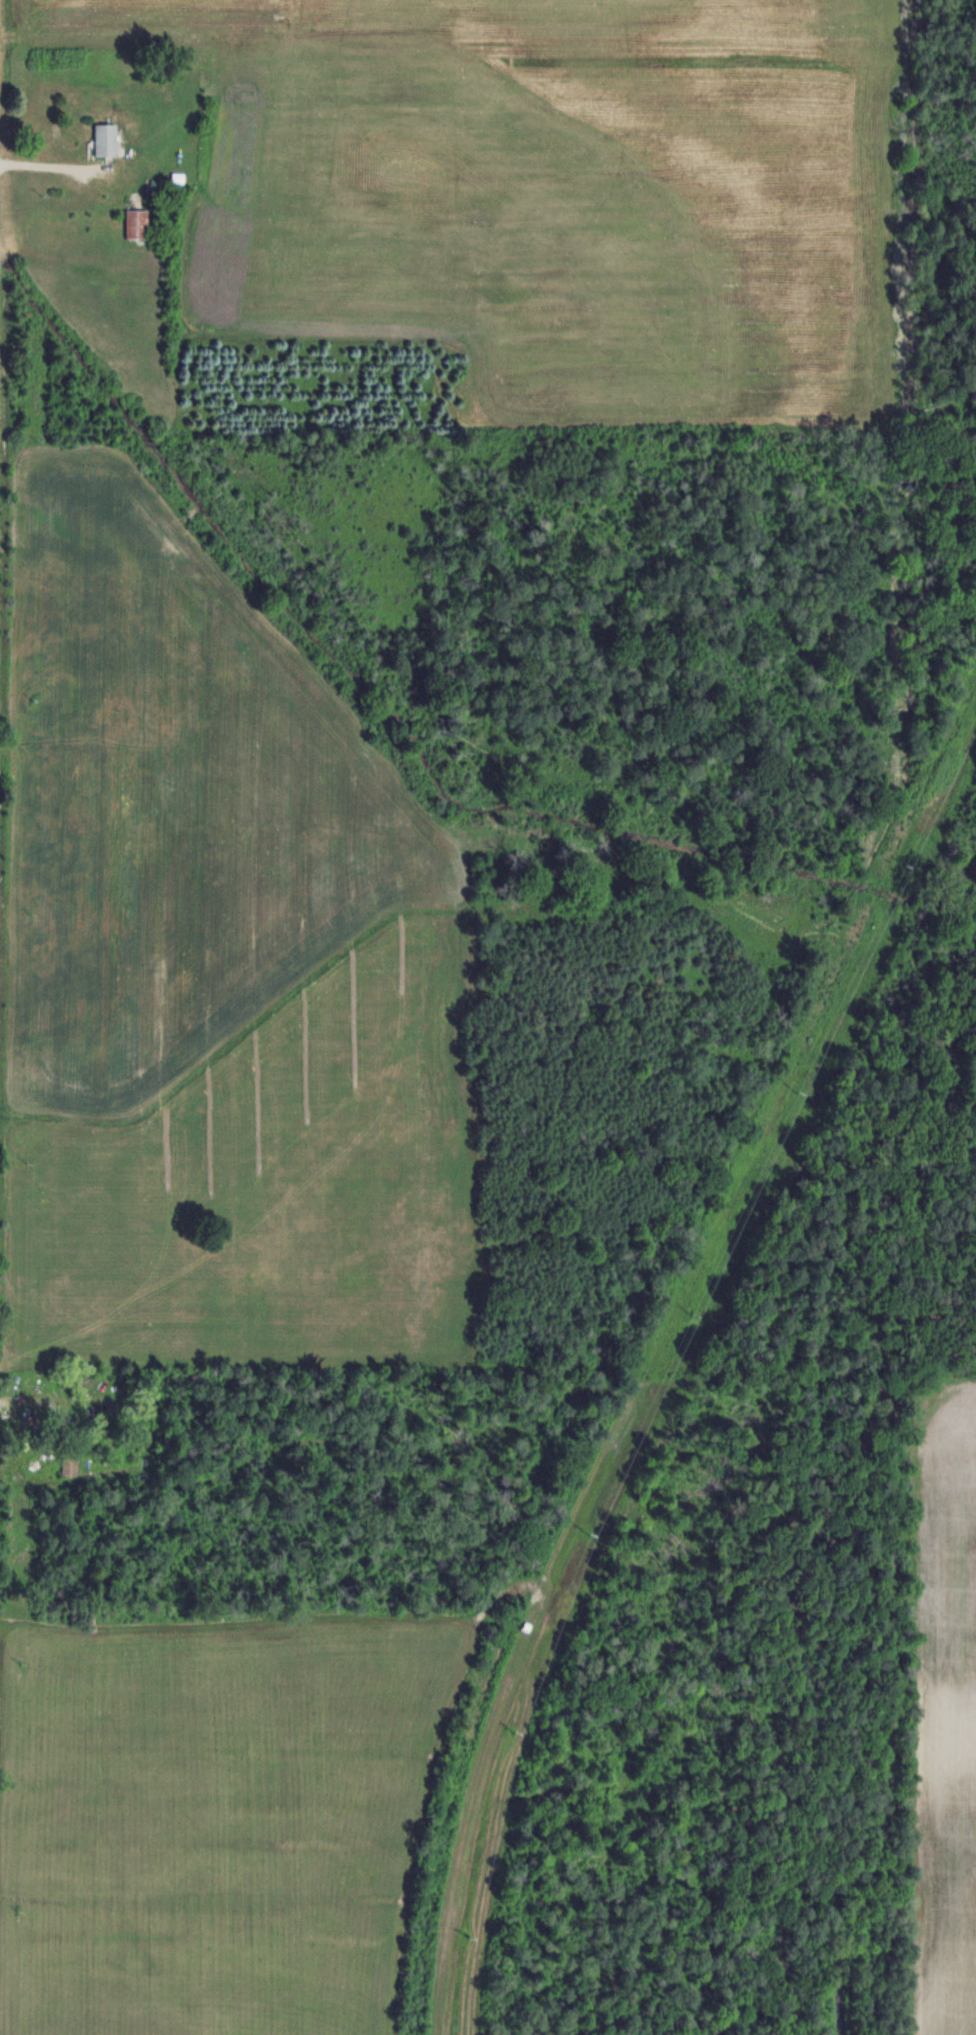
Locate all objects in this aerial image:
building: (105, 139)
building: (136, 224)
building: (69, 1465)

